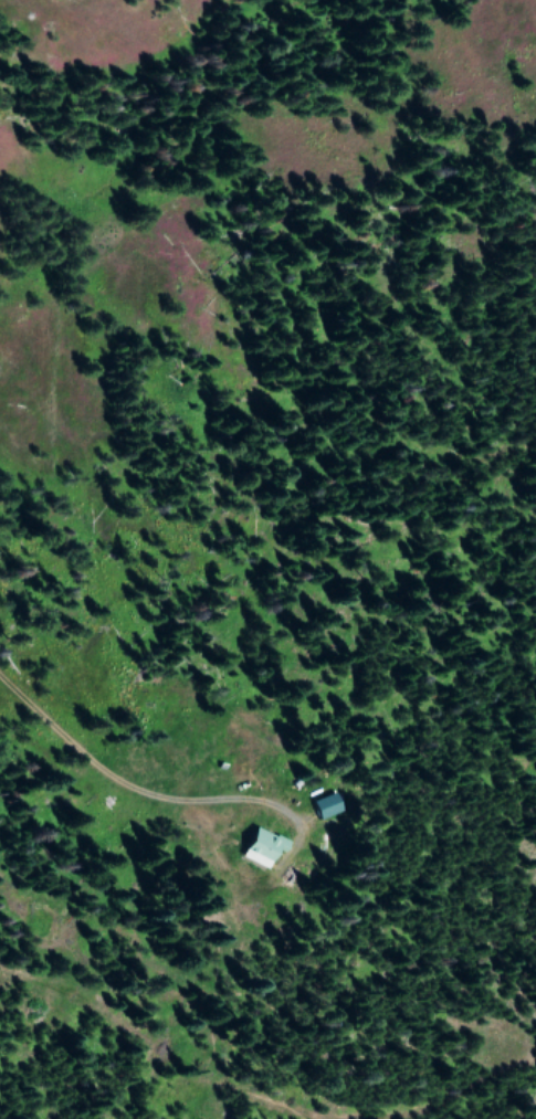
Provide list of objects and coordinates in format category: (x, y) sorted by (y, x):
road: (15, 24)
building: (332, 802)
building: (263, 846)

